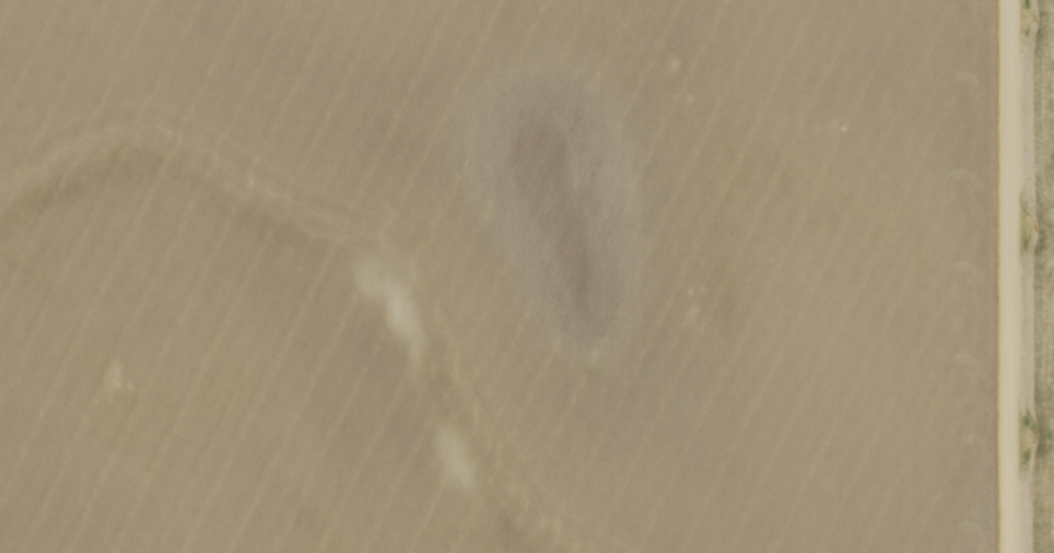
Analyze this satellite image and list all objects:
crop: (494, 276)
road: (1008, 276)
crop: (1041, 278)

